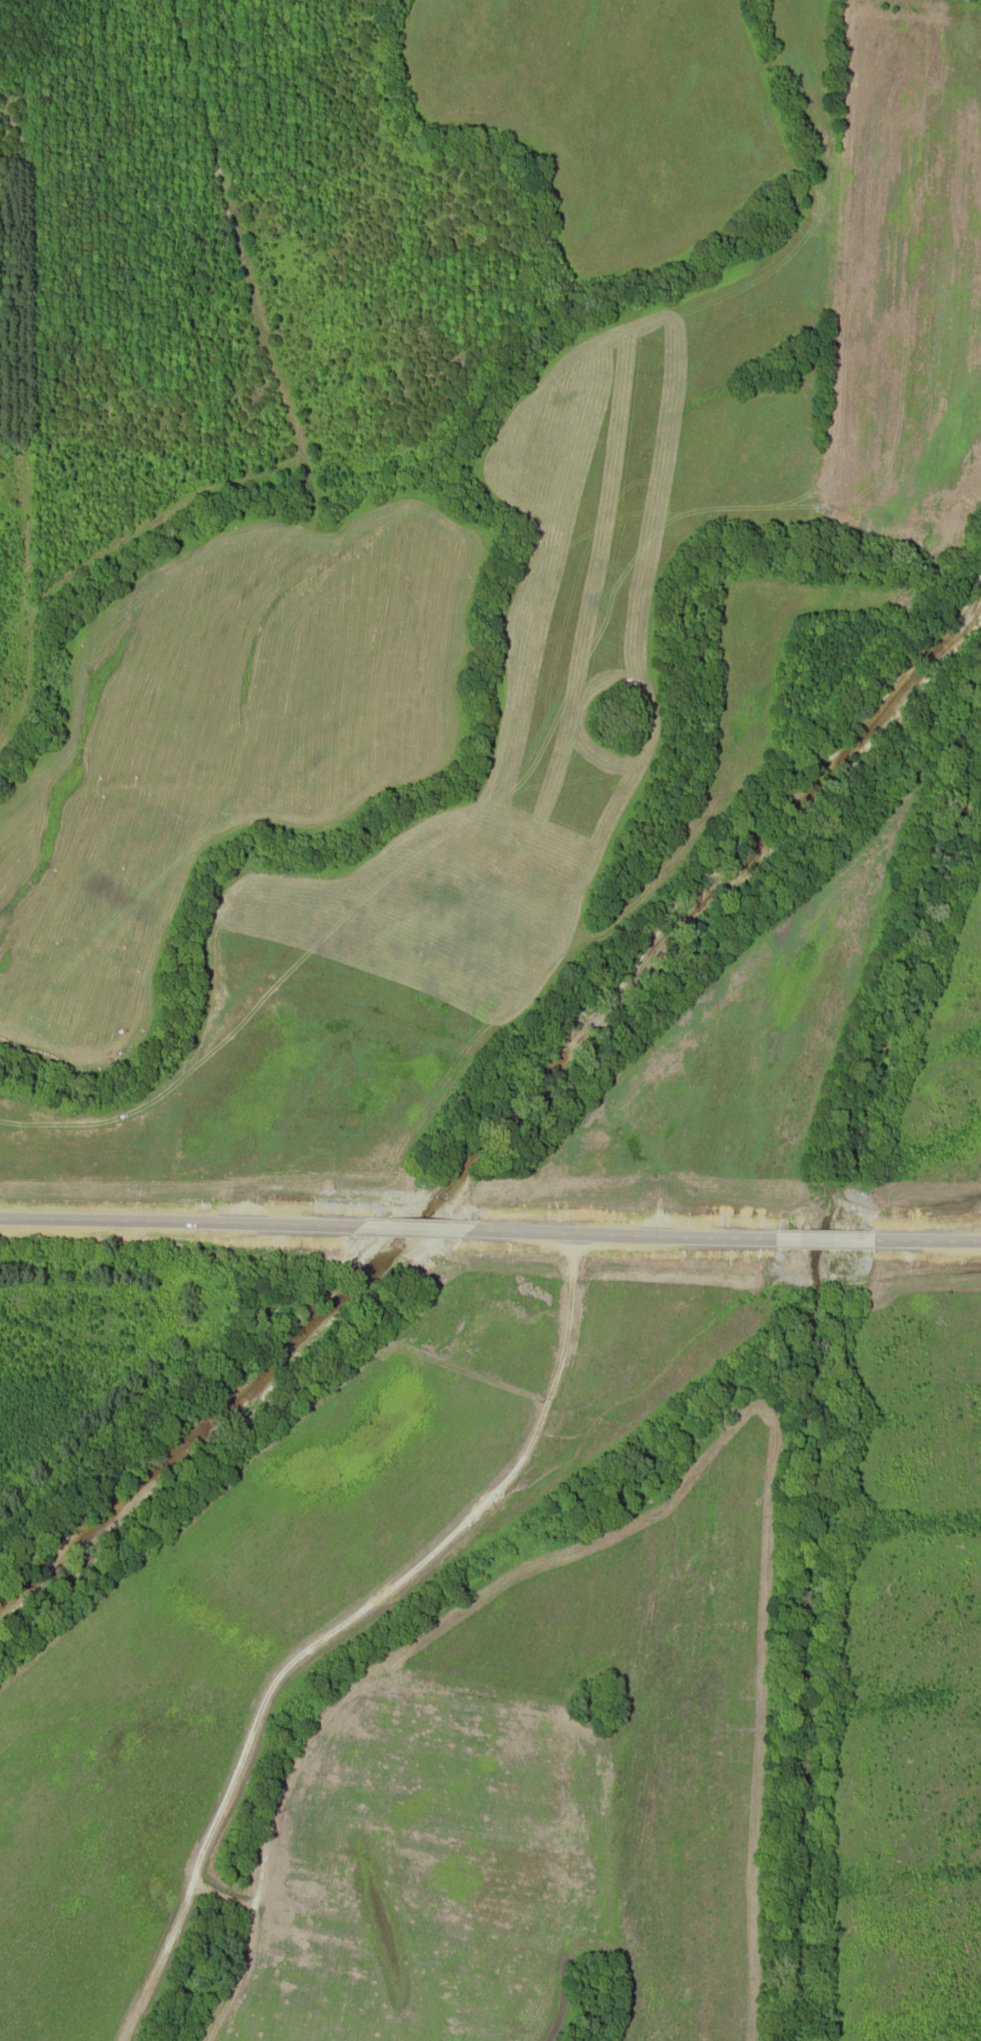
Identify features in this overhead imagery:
road: (180, 1222)
road: (415, 1228)
road: (622, 1237)
road: (825, 1239)
road: (928, 1240)

